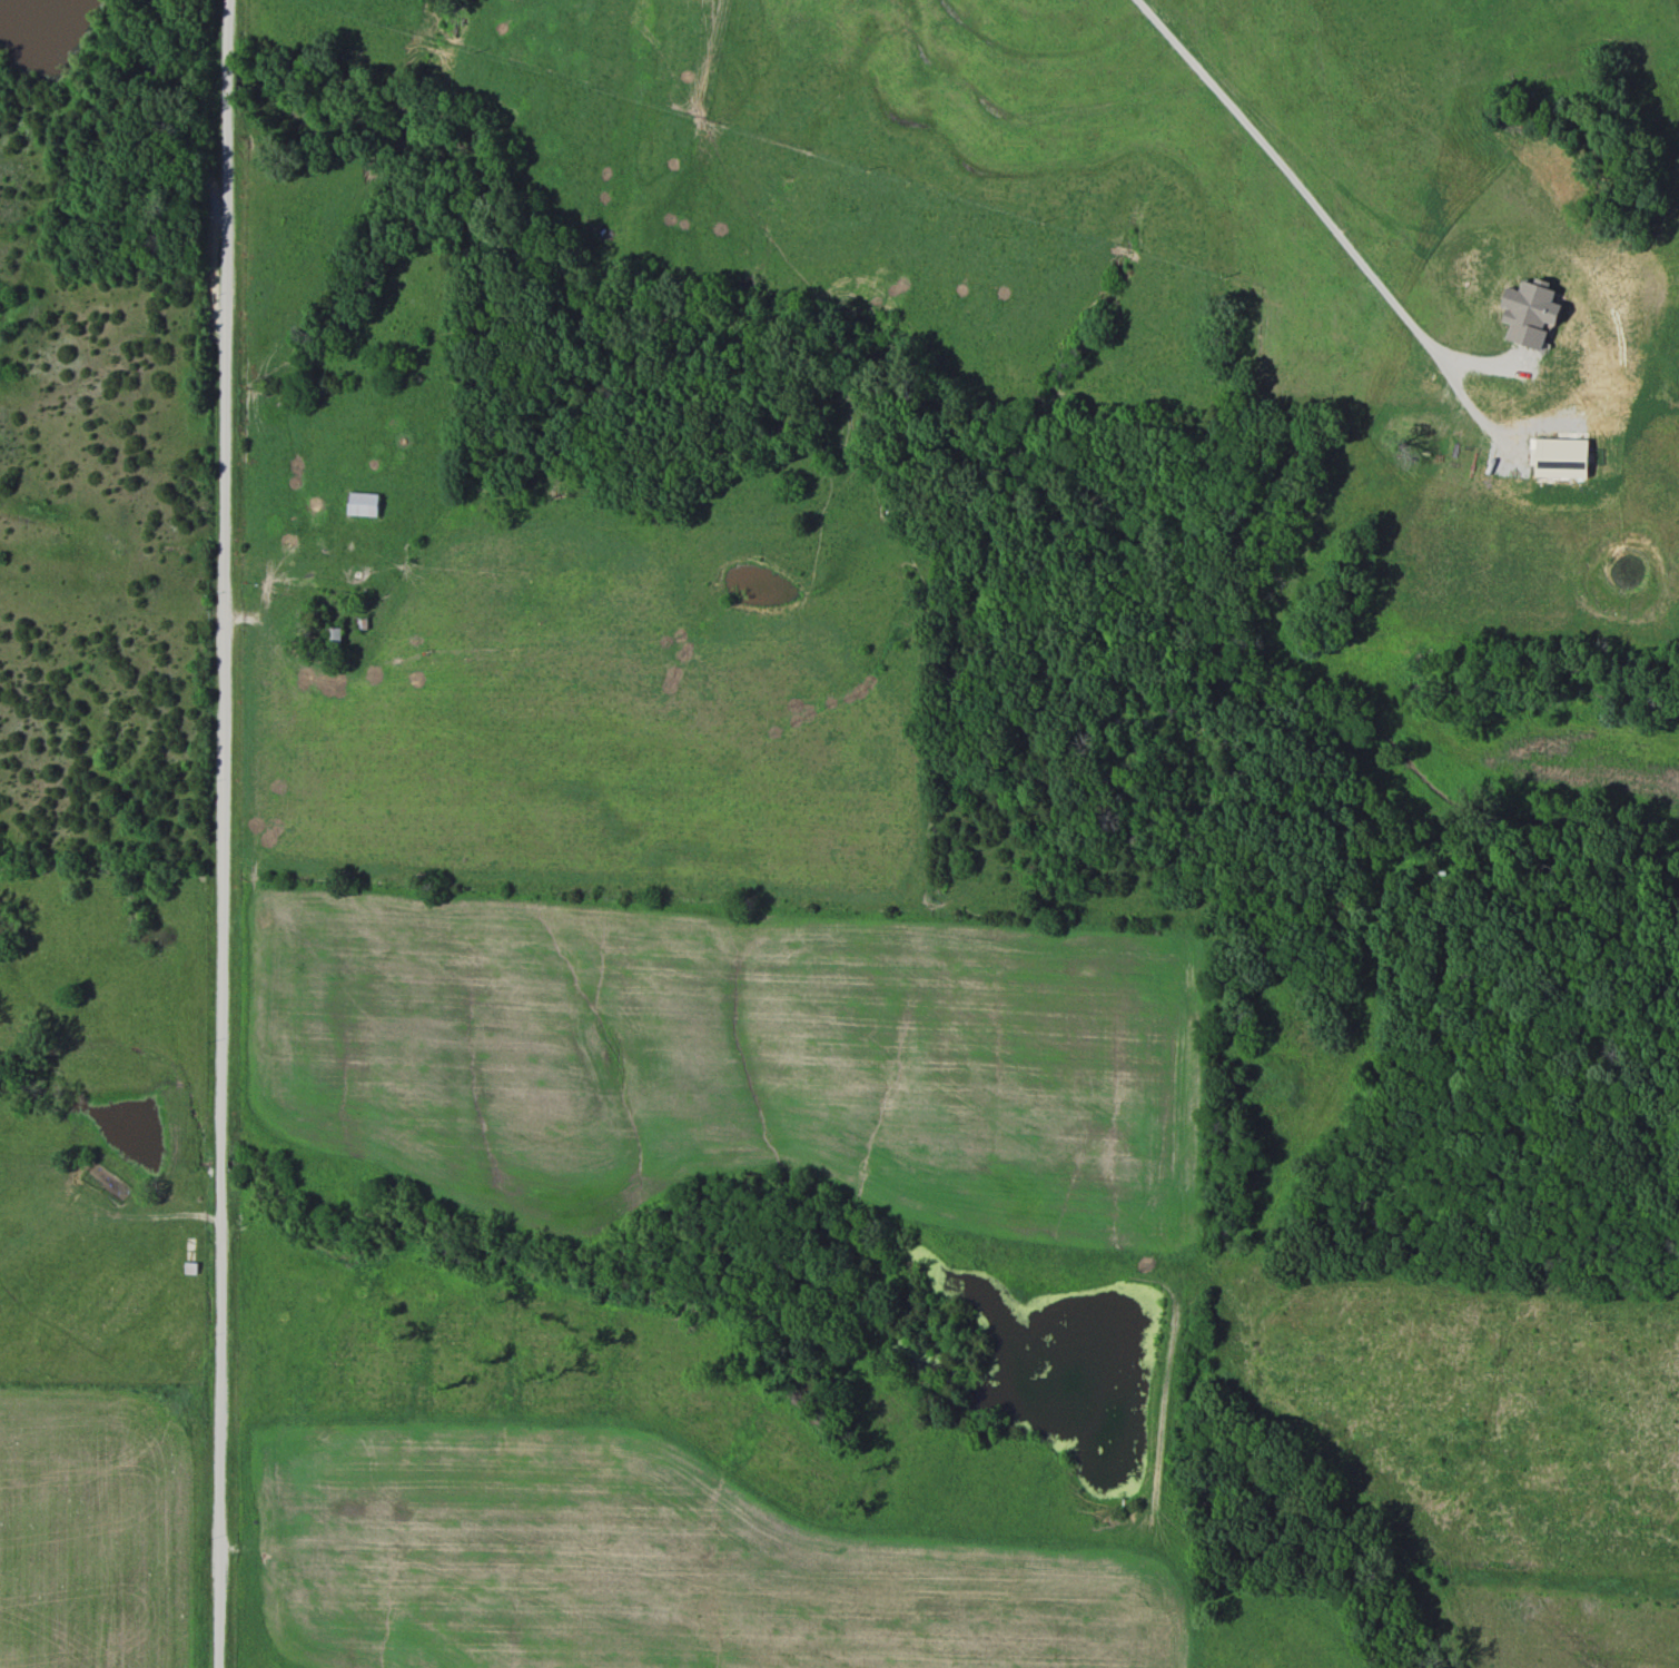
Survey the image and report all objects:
road: (1284, 179)
building: (364, 505)
road: (227, 833)

